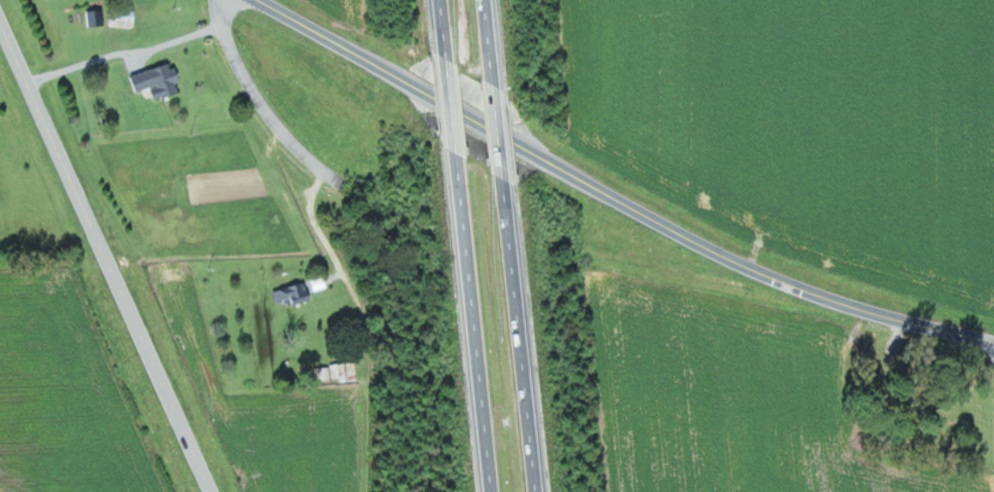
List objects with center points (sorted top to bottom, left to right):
building: (96, 17)
building: (124, 17)
road: (440, 29)
road: (485, 42)
road: (124, 52)
building: (159, 80)
road: (261, 102)
road: (448, 106)
road: (495, 132)
road: (543, 156)
road: (105, 258)
building: (320, 283)
building: (293, 294)
road: (912, 321)
road: (470, 322)
road: (517, 335)

